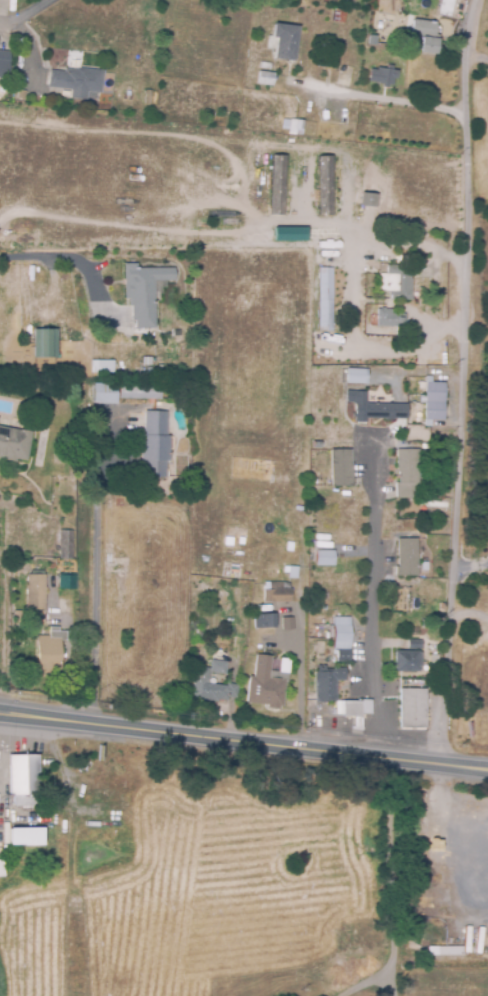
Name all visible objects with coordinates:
road: (25, 15)
building: (334, 16)
building: (425, 36)
building: (284, 41)
road: (478, 58)
building: (4, 65)
building: (382, 76)
building: (265, 79)
building: (76, 82)
building: (20, 96)
road: (385, 97)
building: (147, 98)
building: (294, 127)
building: (276, 185)
building: (324, 187)
building: (367, 199)
building: (363, 207)
building: (282, 233)
road: (65, 253)
building: (396, 283)
building: (144, 292)
building: (325, 300)
building: (388, 320)
building: (49, 343)
building: (146, 361)
building: (107, 366)
building: (161, 368)
building: (356, 376)
road: (461, 380)
building: (183, 382)
building: (140, 391)
building: (105, 393)
building: (434, 402)
building: (367, 407)
building: (16, 443)
building: (155, 444)
building: (341, 468)
building: (407, 472)
building: (65, 545)
building: (407, 557)
building: (324, 558)
road: (470, 564)
building: (291, 571)
building: (67, 582)
building: (276, 593)
road: (373, 597)
building: (36, 599)
road: (94, 609)
road: (468, 612)
building: (264, 621)
building: (287, 624)
building: (196, 631)
building: (342, 643)
road: (67, 644)
building: (415, 645)
building: (44, 654)
building: (408, 662)
building: (218, 667)
road: (300, 667)
building: (264, 685)
building: (327, 685)
building: (206, 687)
building: (412, 708)
building: (357, 710)
road: (243, 739)
road: (61, 763)
road: (4, 765)
building: (33, 798)
road: (450, 840)
road: (391, 889)
building: (77, 955)

